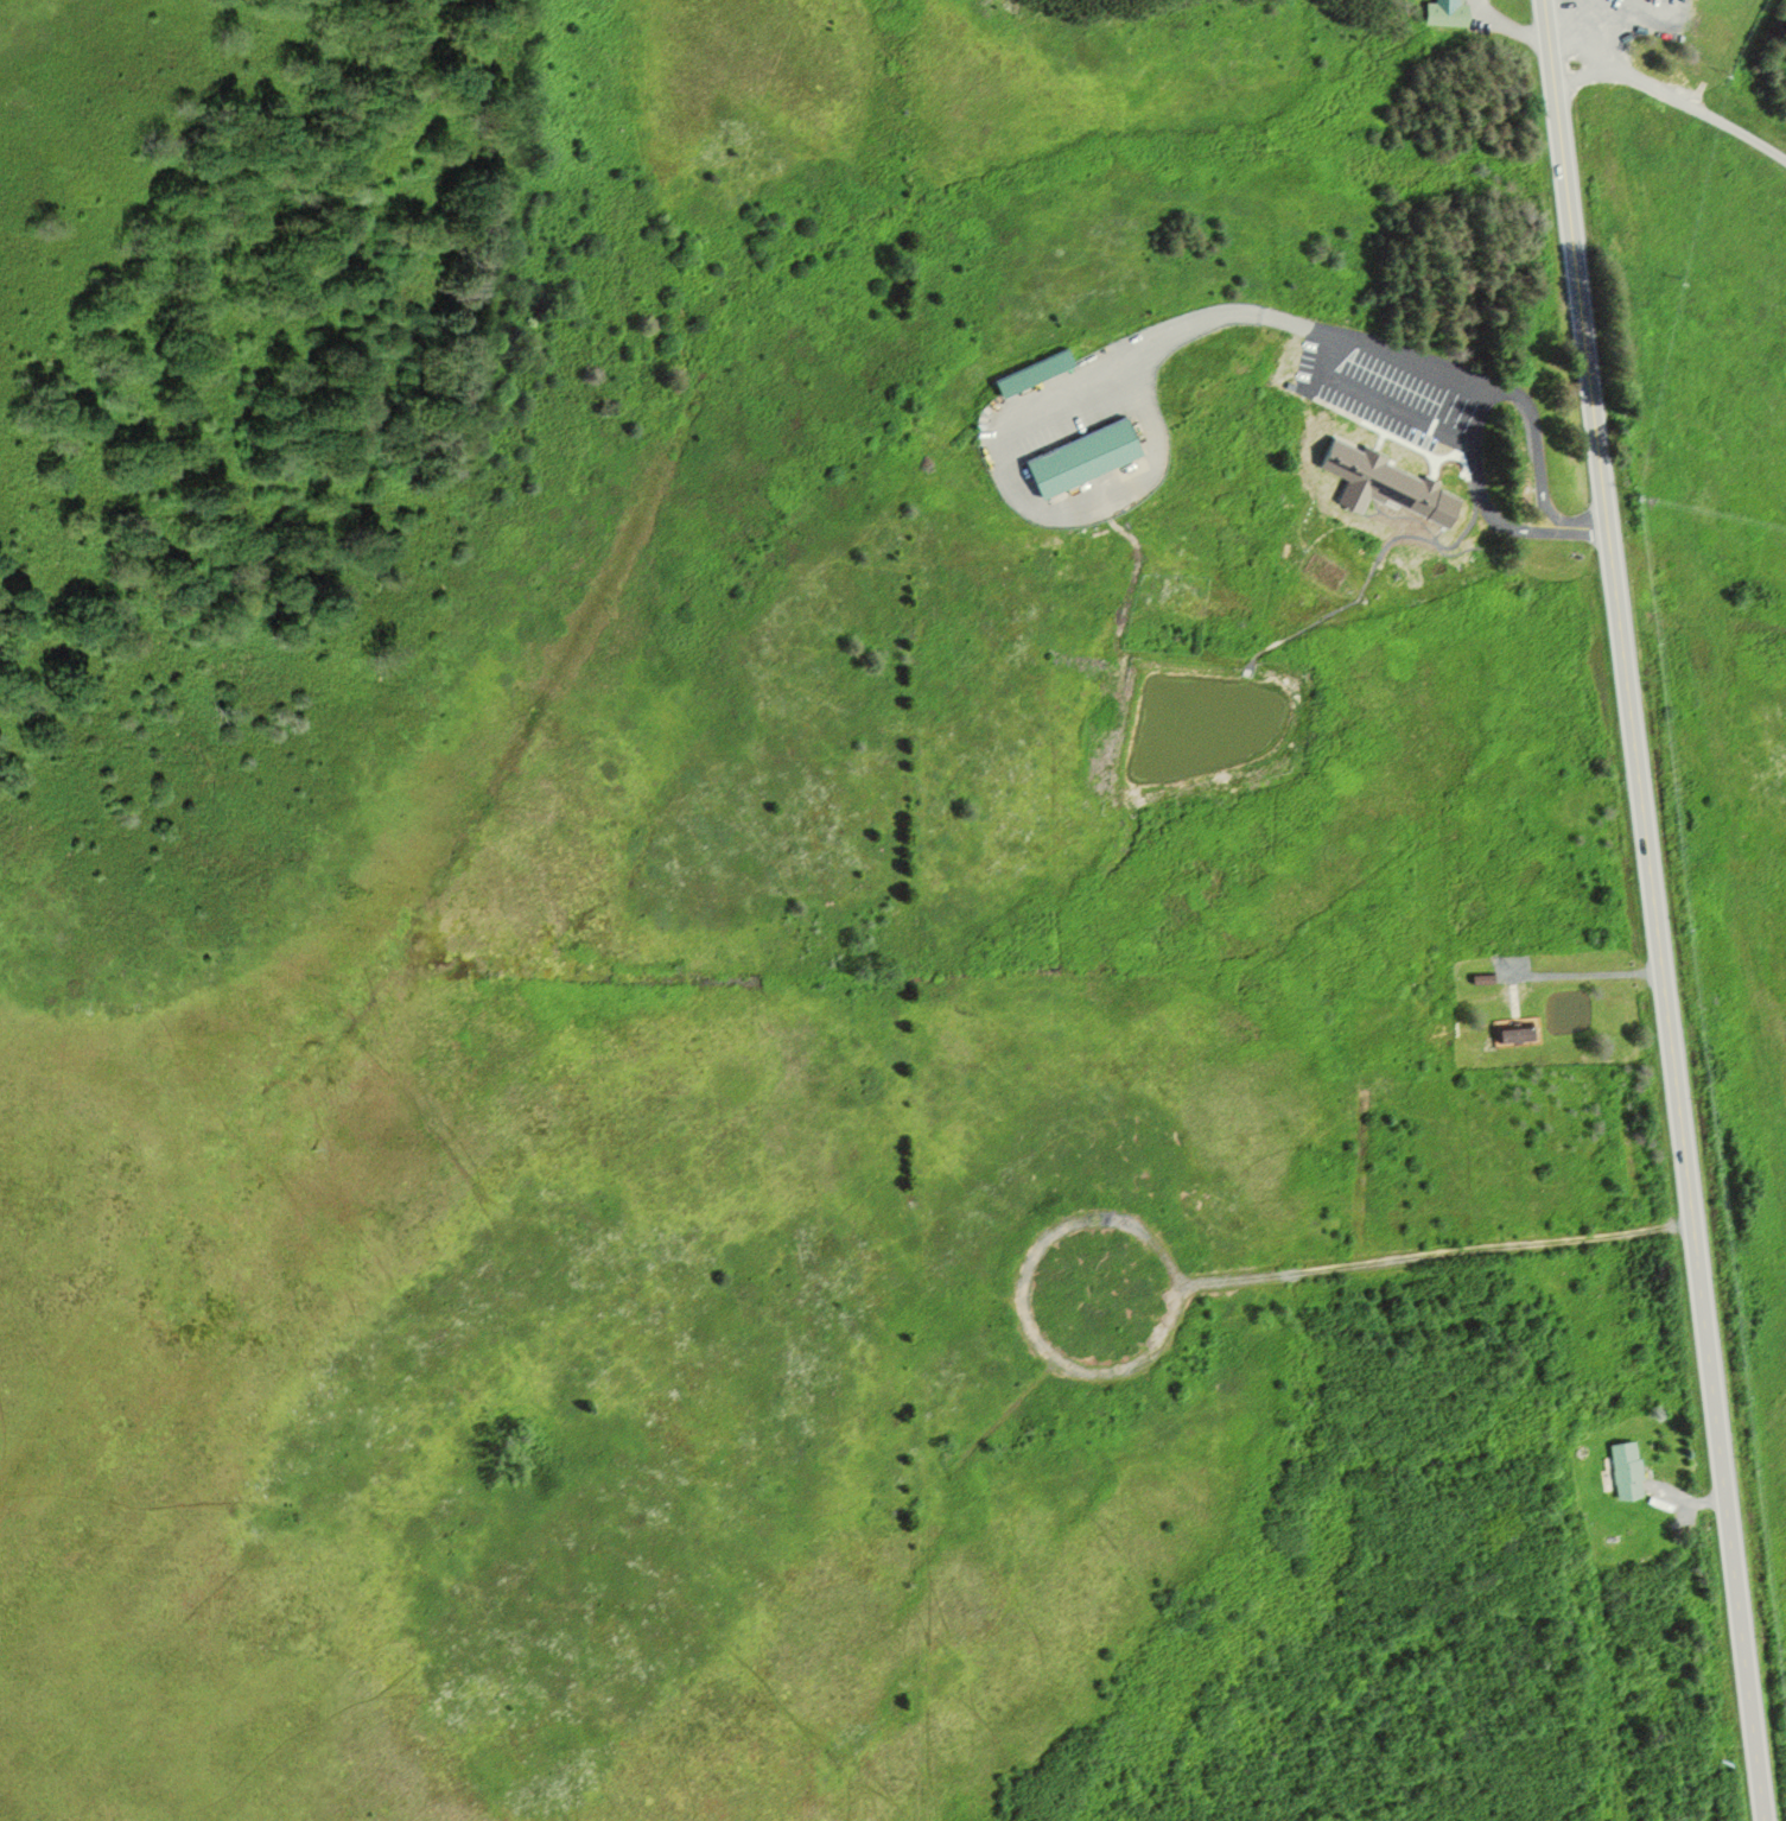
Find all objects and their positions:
building: (1445, 11)
road: (1601, 66)
road: (1698, 109)
building: (1031, 369)
road: (1589, 379)
road: (1538, 439)
building: (1079, 455)
building: (1387, 474)
road: (1480, 490)
building: (1513, 1033)
road: (1438, 1258)
road: (1699, 1288)
road: (1022, 1305)
building: (1625, 1468)

